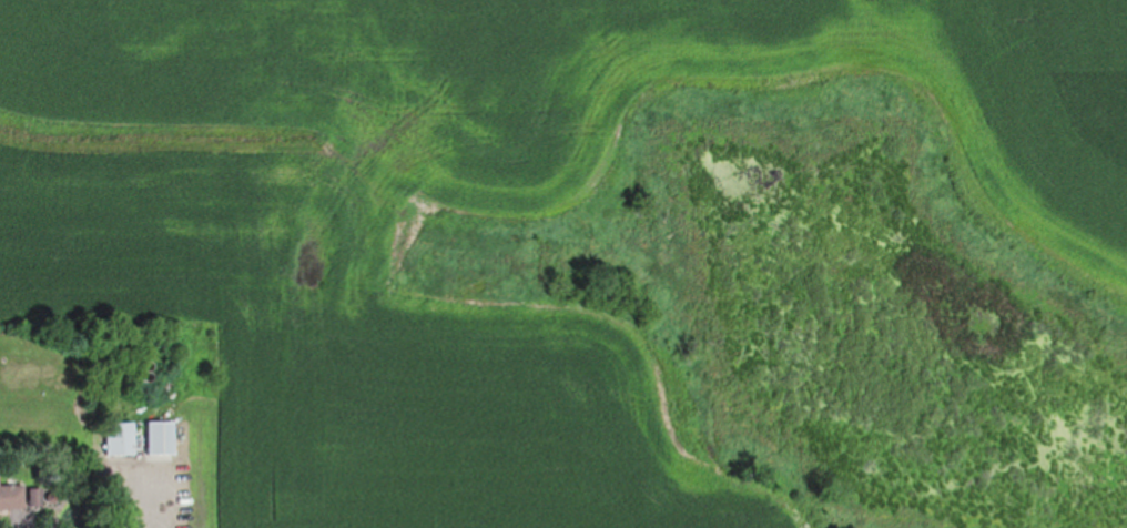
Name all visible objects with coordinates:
building: (162, 436)
building: (121, 437)
building: (12, 495)

